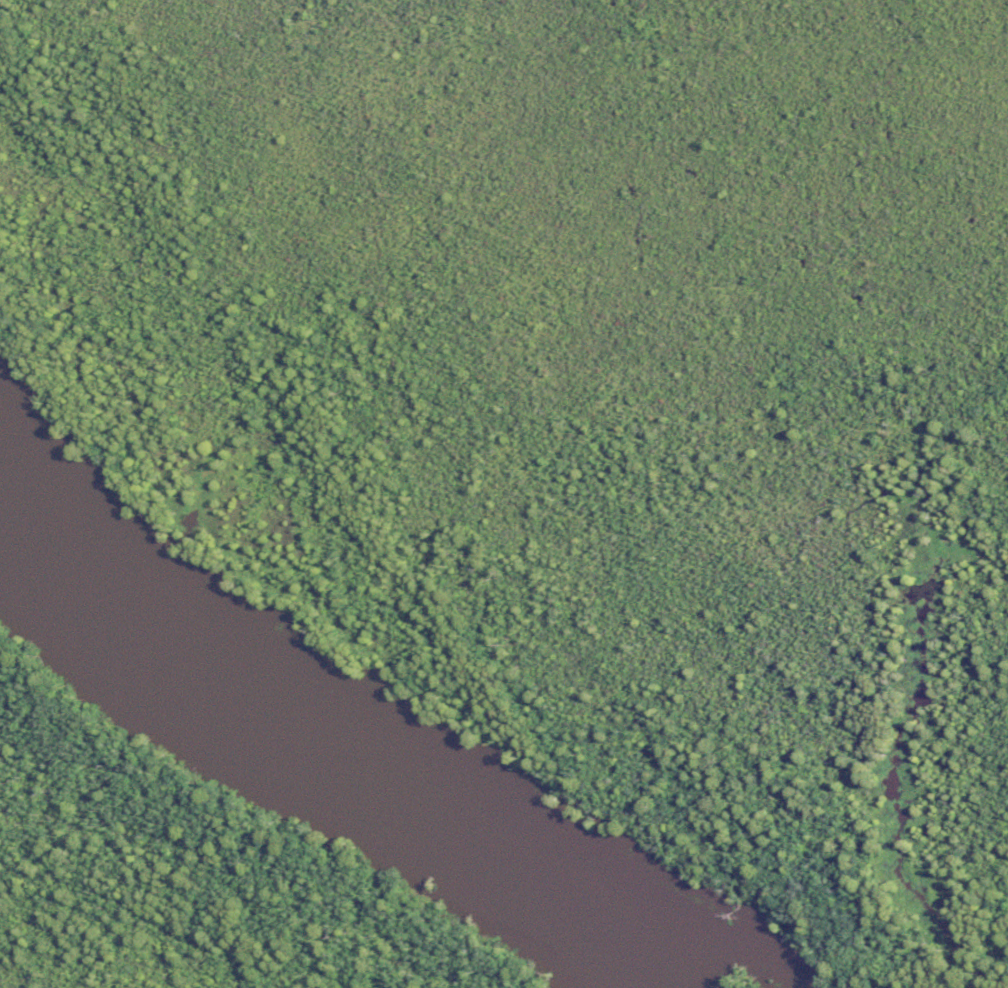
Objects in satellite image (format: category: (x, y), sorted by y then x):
river: (715, 932)

